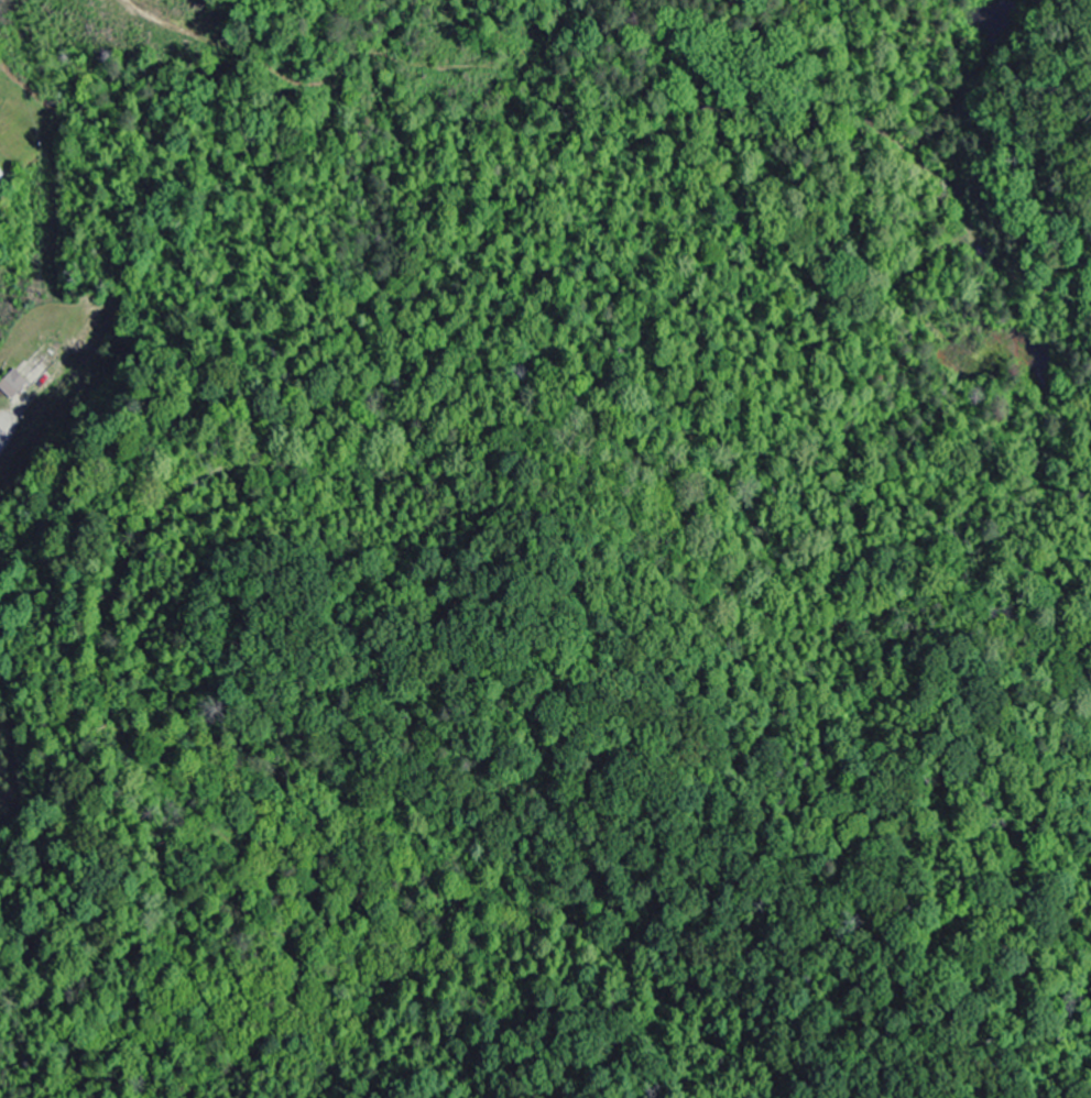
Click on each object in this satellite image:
building: (10, 385)

